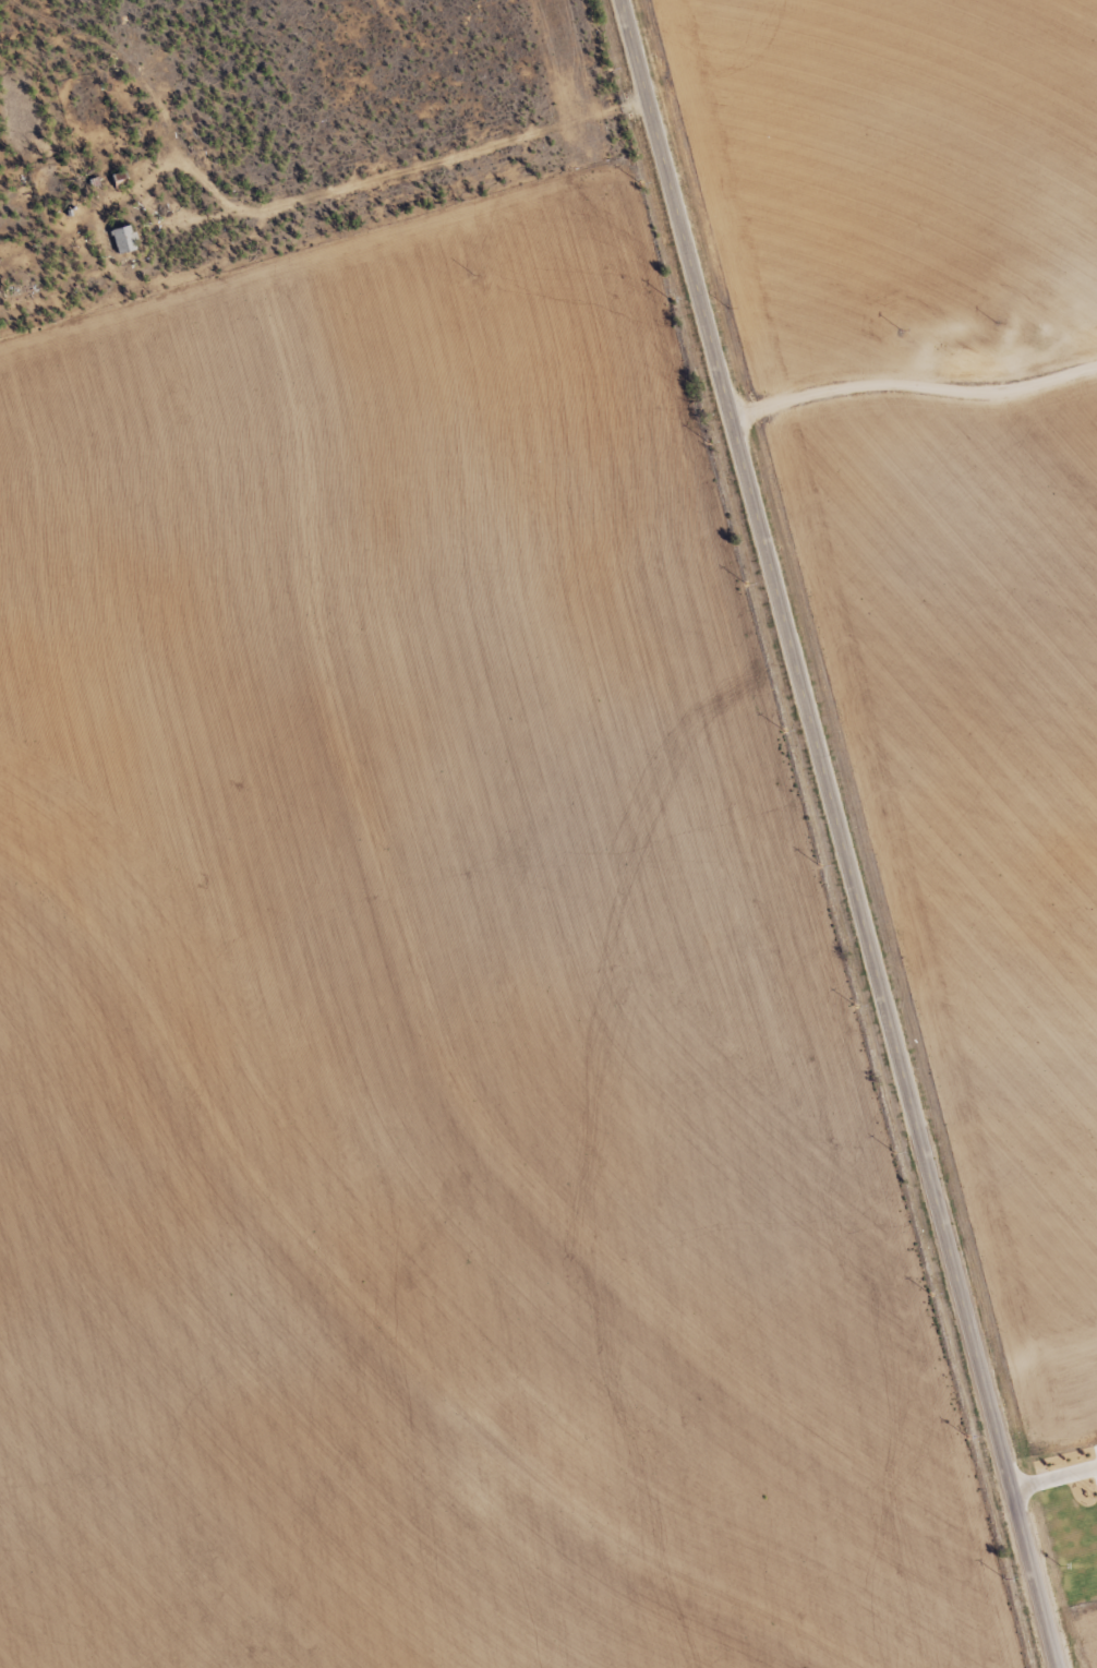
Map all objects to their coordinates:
building: (123, 239)
road: (839, 833)

